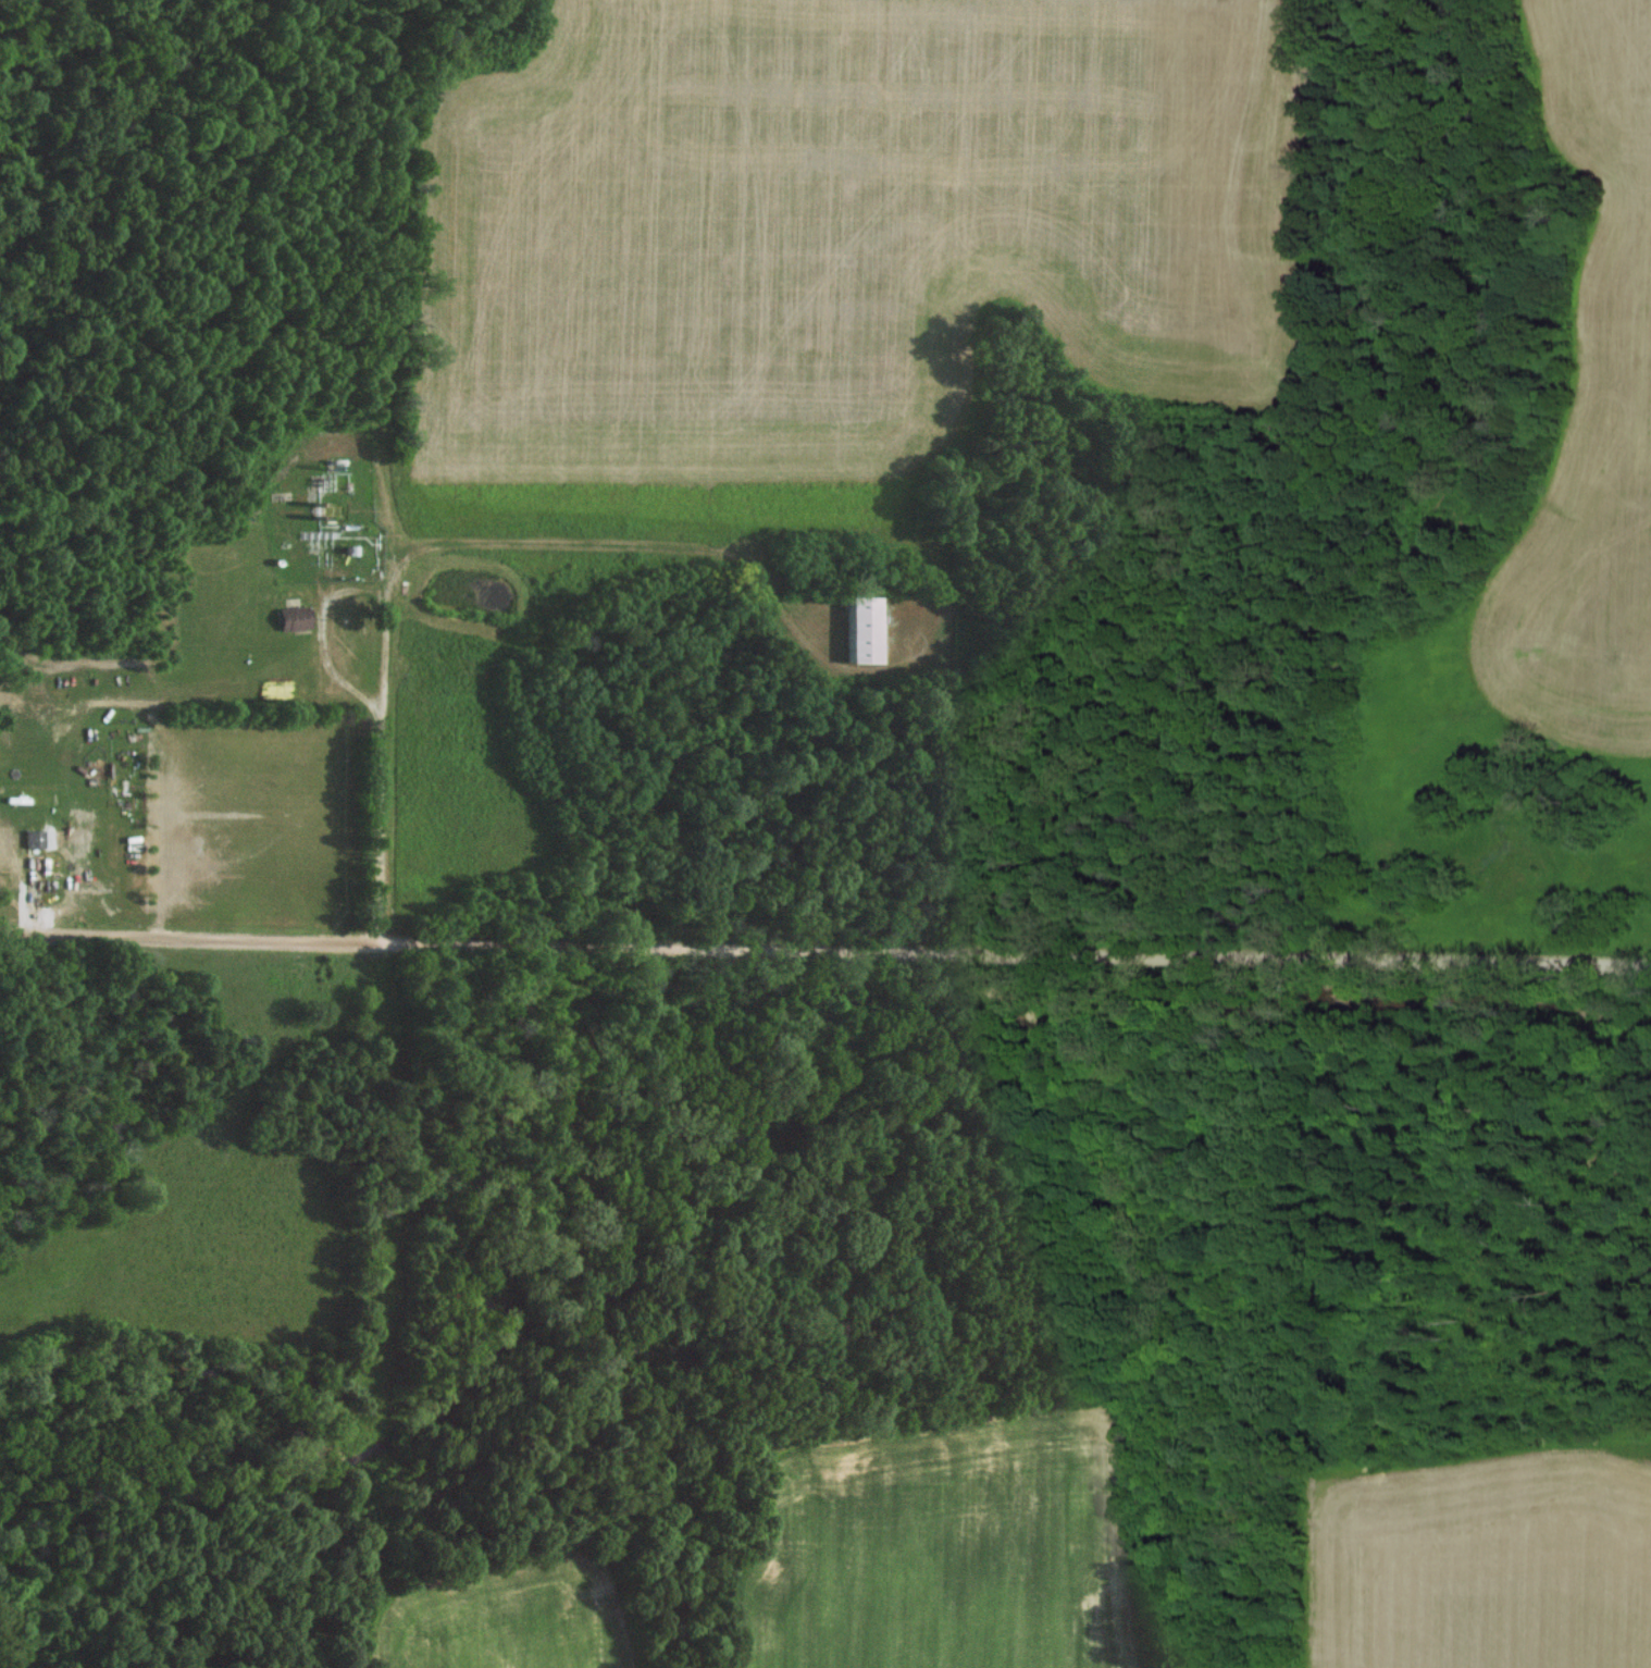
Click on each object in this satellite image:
road: (448, 543)
building: (300, 616)
road: (330, 627)
building: (868, 630)
road: (824, 949)

